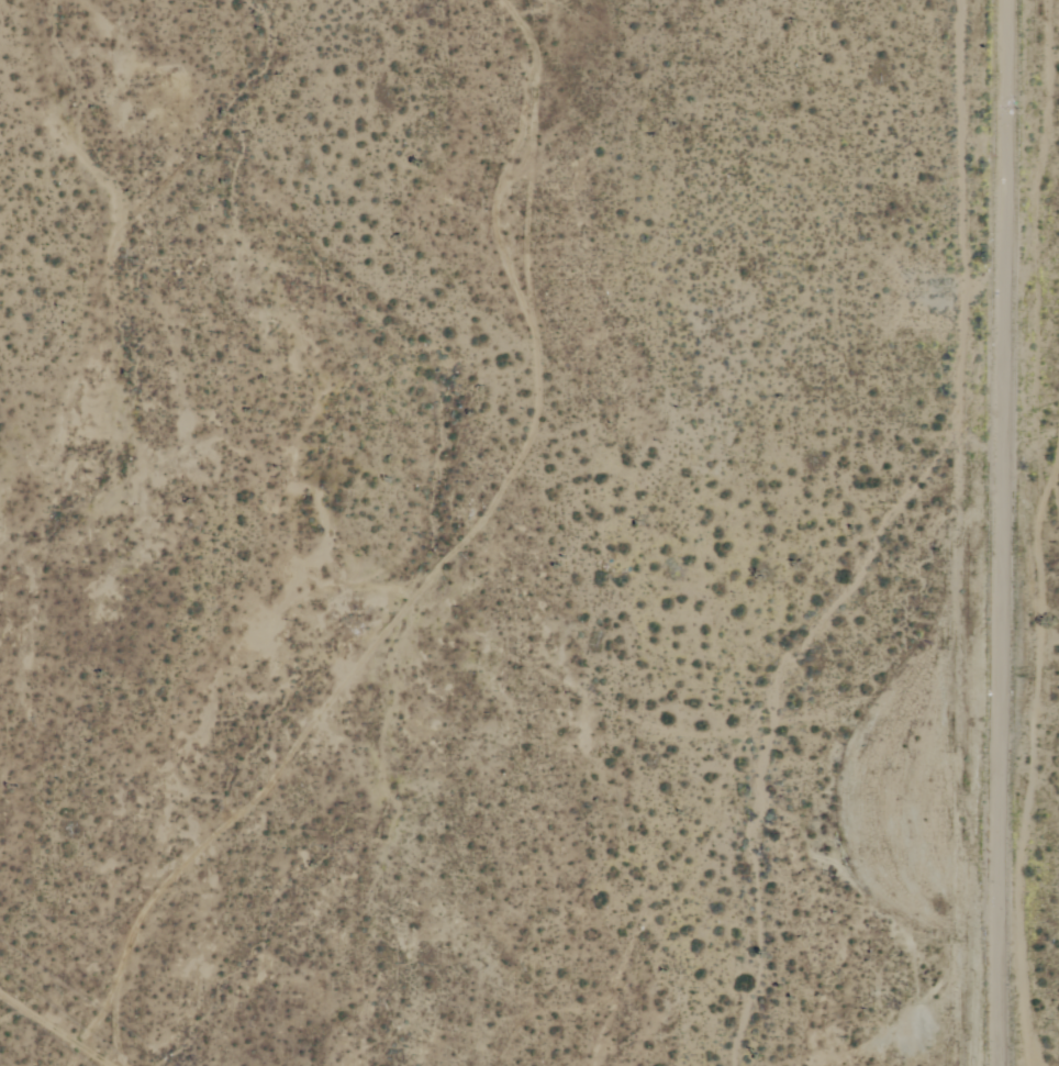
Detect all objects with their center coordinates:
road: (1000, 533)

